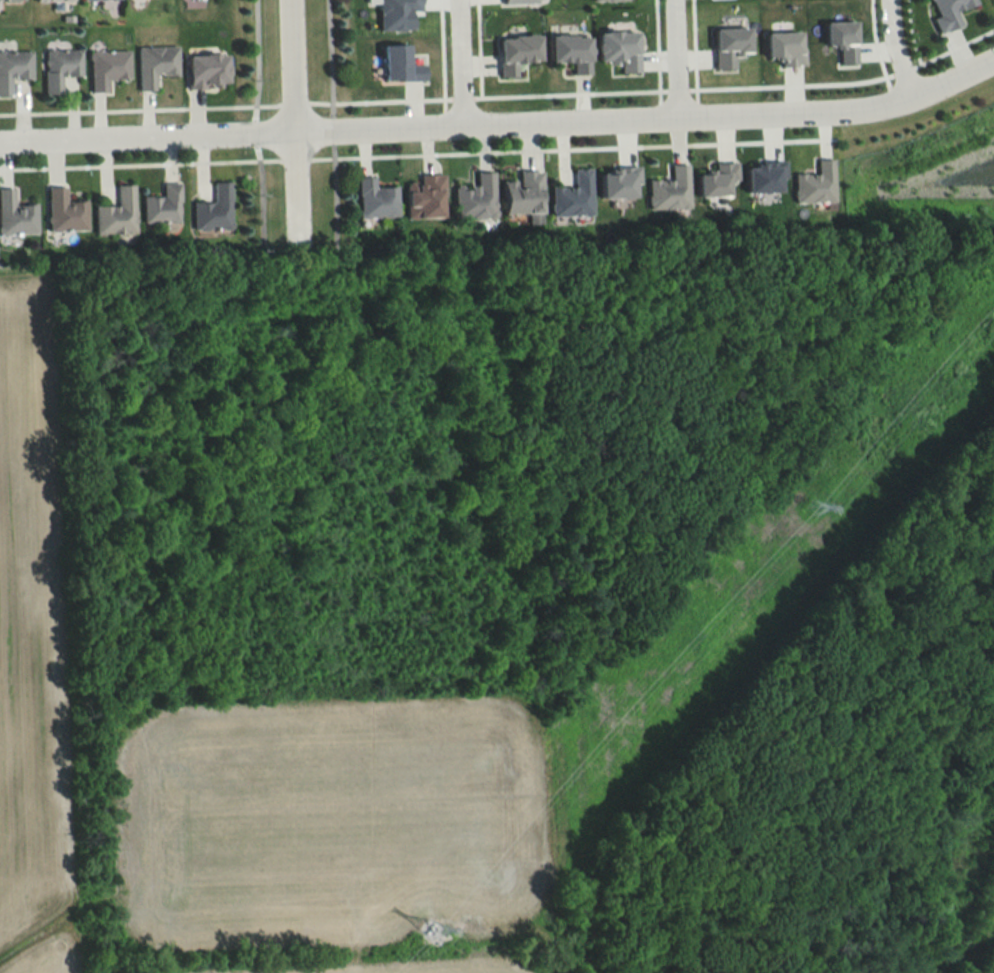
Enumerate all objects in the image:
building: (5, 0)
building: (51, 0)
building: (516, 0)
building: (606, 0)
building: (992, 2)
building: (944, 12)
building: (394, 13)
road: (907, 32)
building: (838, 37)
building: (725, 43)
building: (780, 44)
road: (874, 44)
building: (616, 46)
road: (951, 46)
road: (477, 48)
building: (568, 48)
building: (514, 49)
road: (692, 49)
road: (893, 49)
road: (655, 50)
road: (440, 55)
road: (328, 59)
road: (672, 59)
building: (398, 62)
road: (459, 63)
building: (155, 65)
building: (13, 68)
building: (59, 68)
building: (107, 68)
building: (208, 70)
road: (901, 70)
road: (789, 84)
road: (675, 88)
road: (567, 91)
road: (461, 97)
road: (378, 100)
road: (291, 101)
road: (289, 122)
road: (502, 124)
road: (331, 130)
road: (571, 149)
road: (294, 159)
road: (140, 163)
building: (762, 174)
building: (713, 179)
building: (616, 180)
building: (813, 182)
building: (668, 189)
building: (520, 192)
building: (571, 195)
building: (373, 197)
building: (424, 197)
building: (474, 197)
road: (331, 198)
building: (162, 206)
building: (214, 210)
building: (64, 212)
building: (116, 214)
building: (15, 215)
power tower: (813, 510)
crop: (31, 640)
crop: (329, 820)
power tower: (431, 930)
crop: (374, 967)

